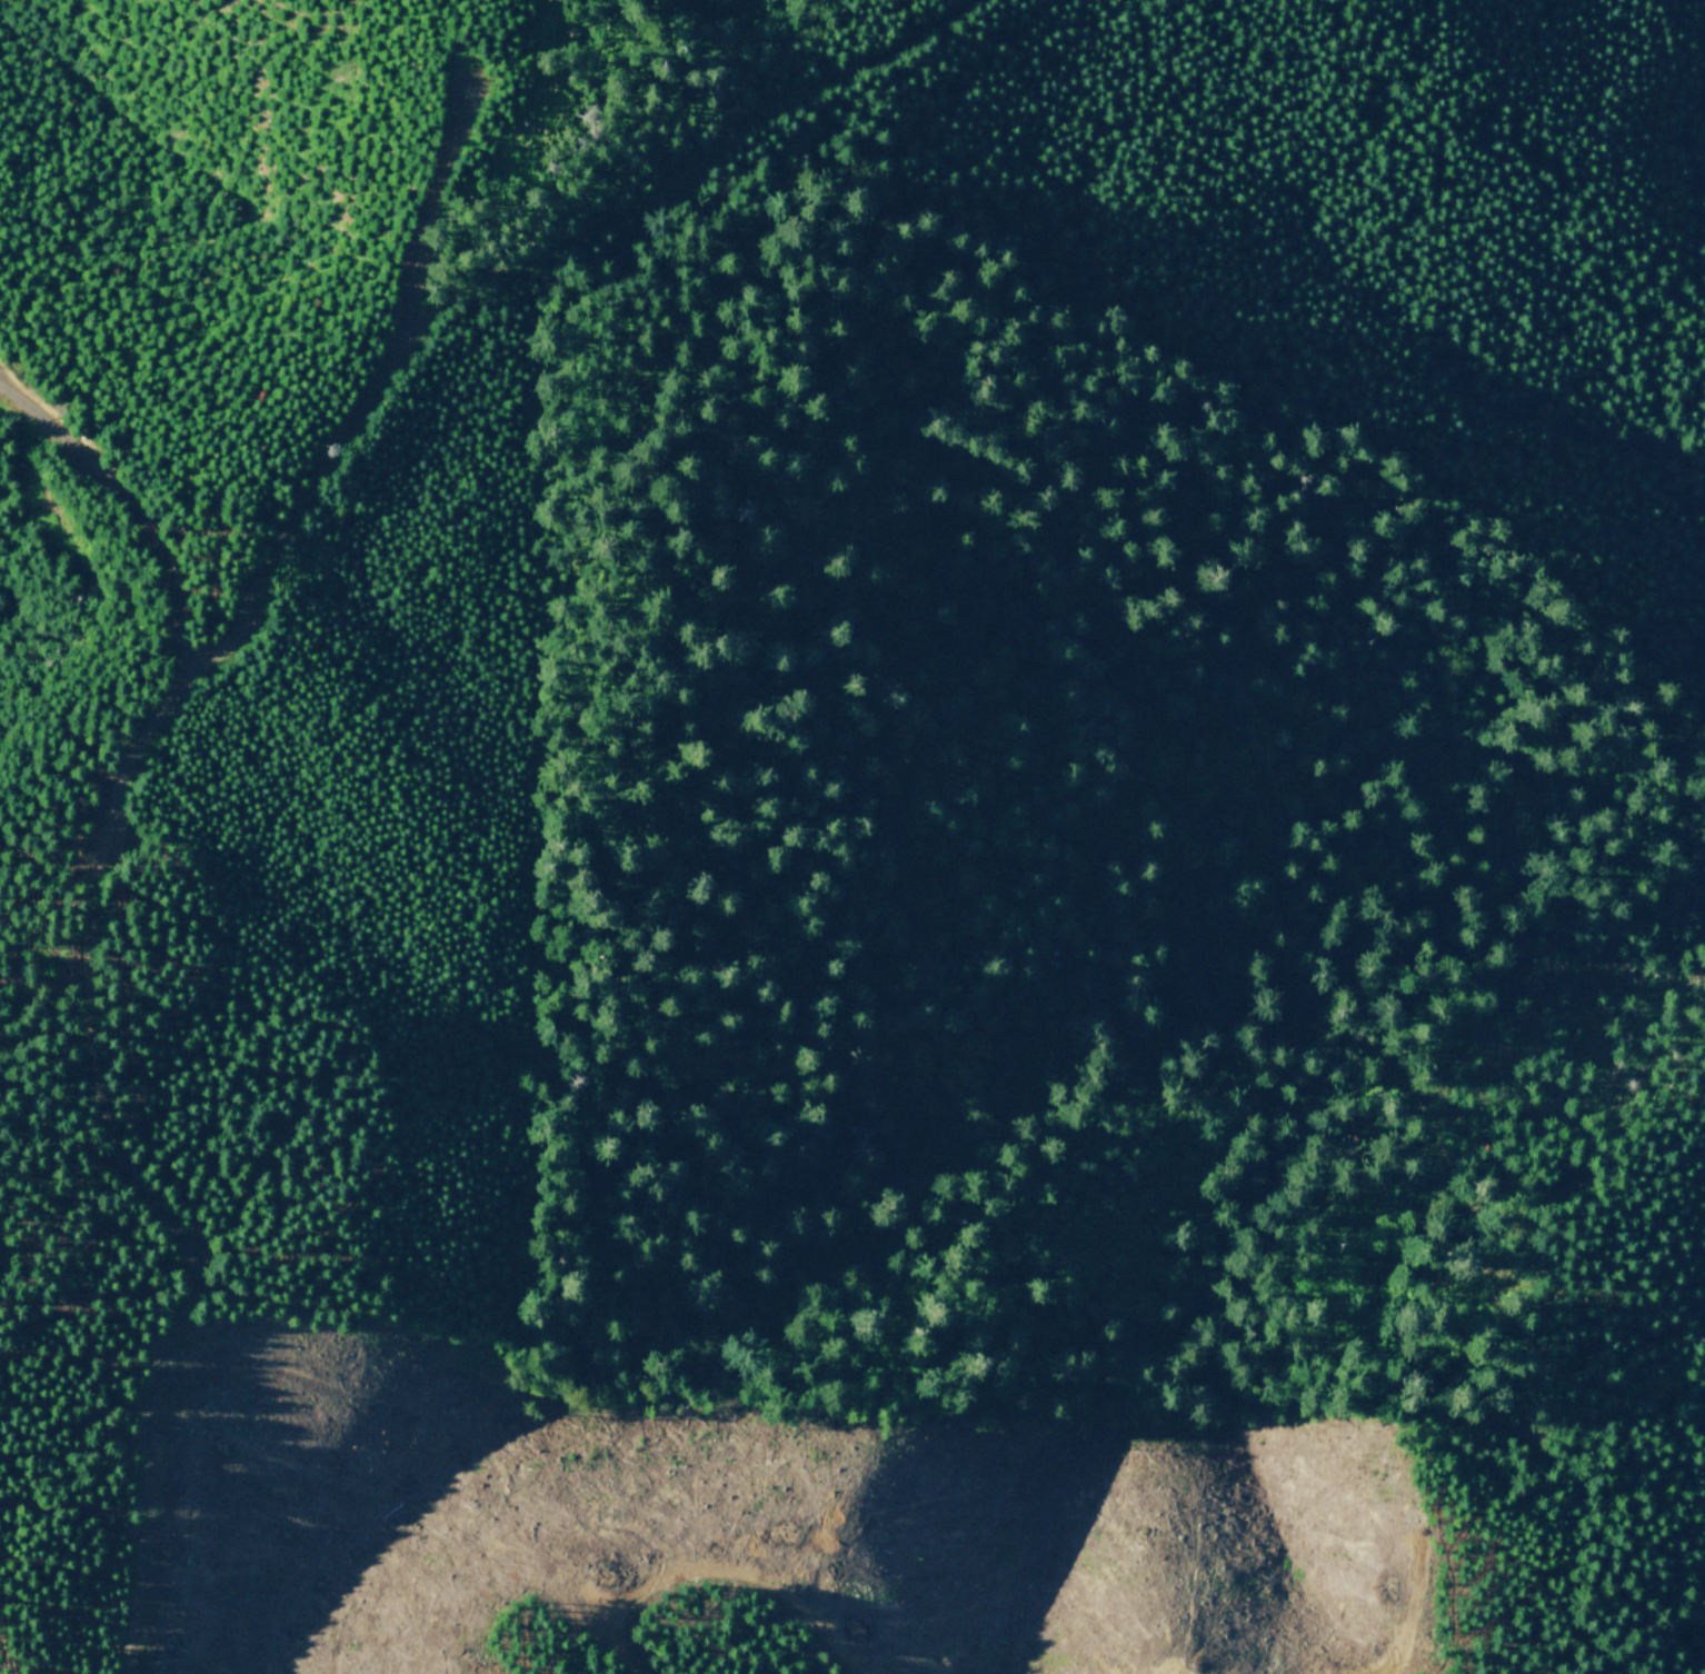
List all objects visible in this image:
road: (131, 518)
road: (195, 674)

